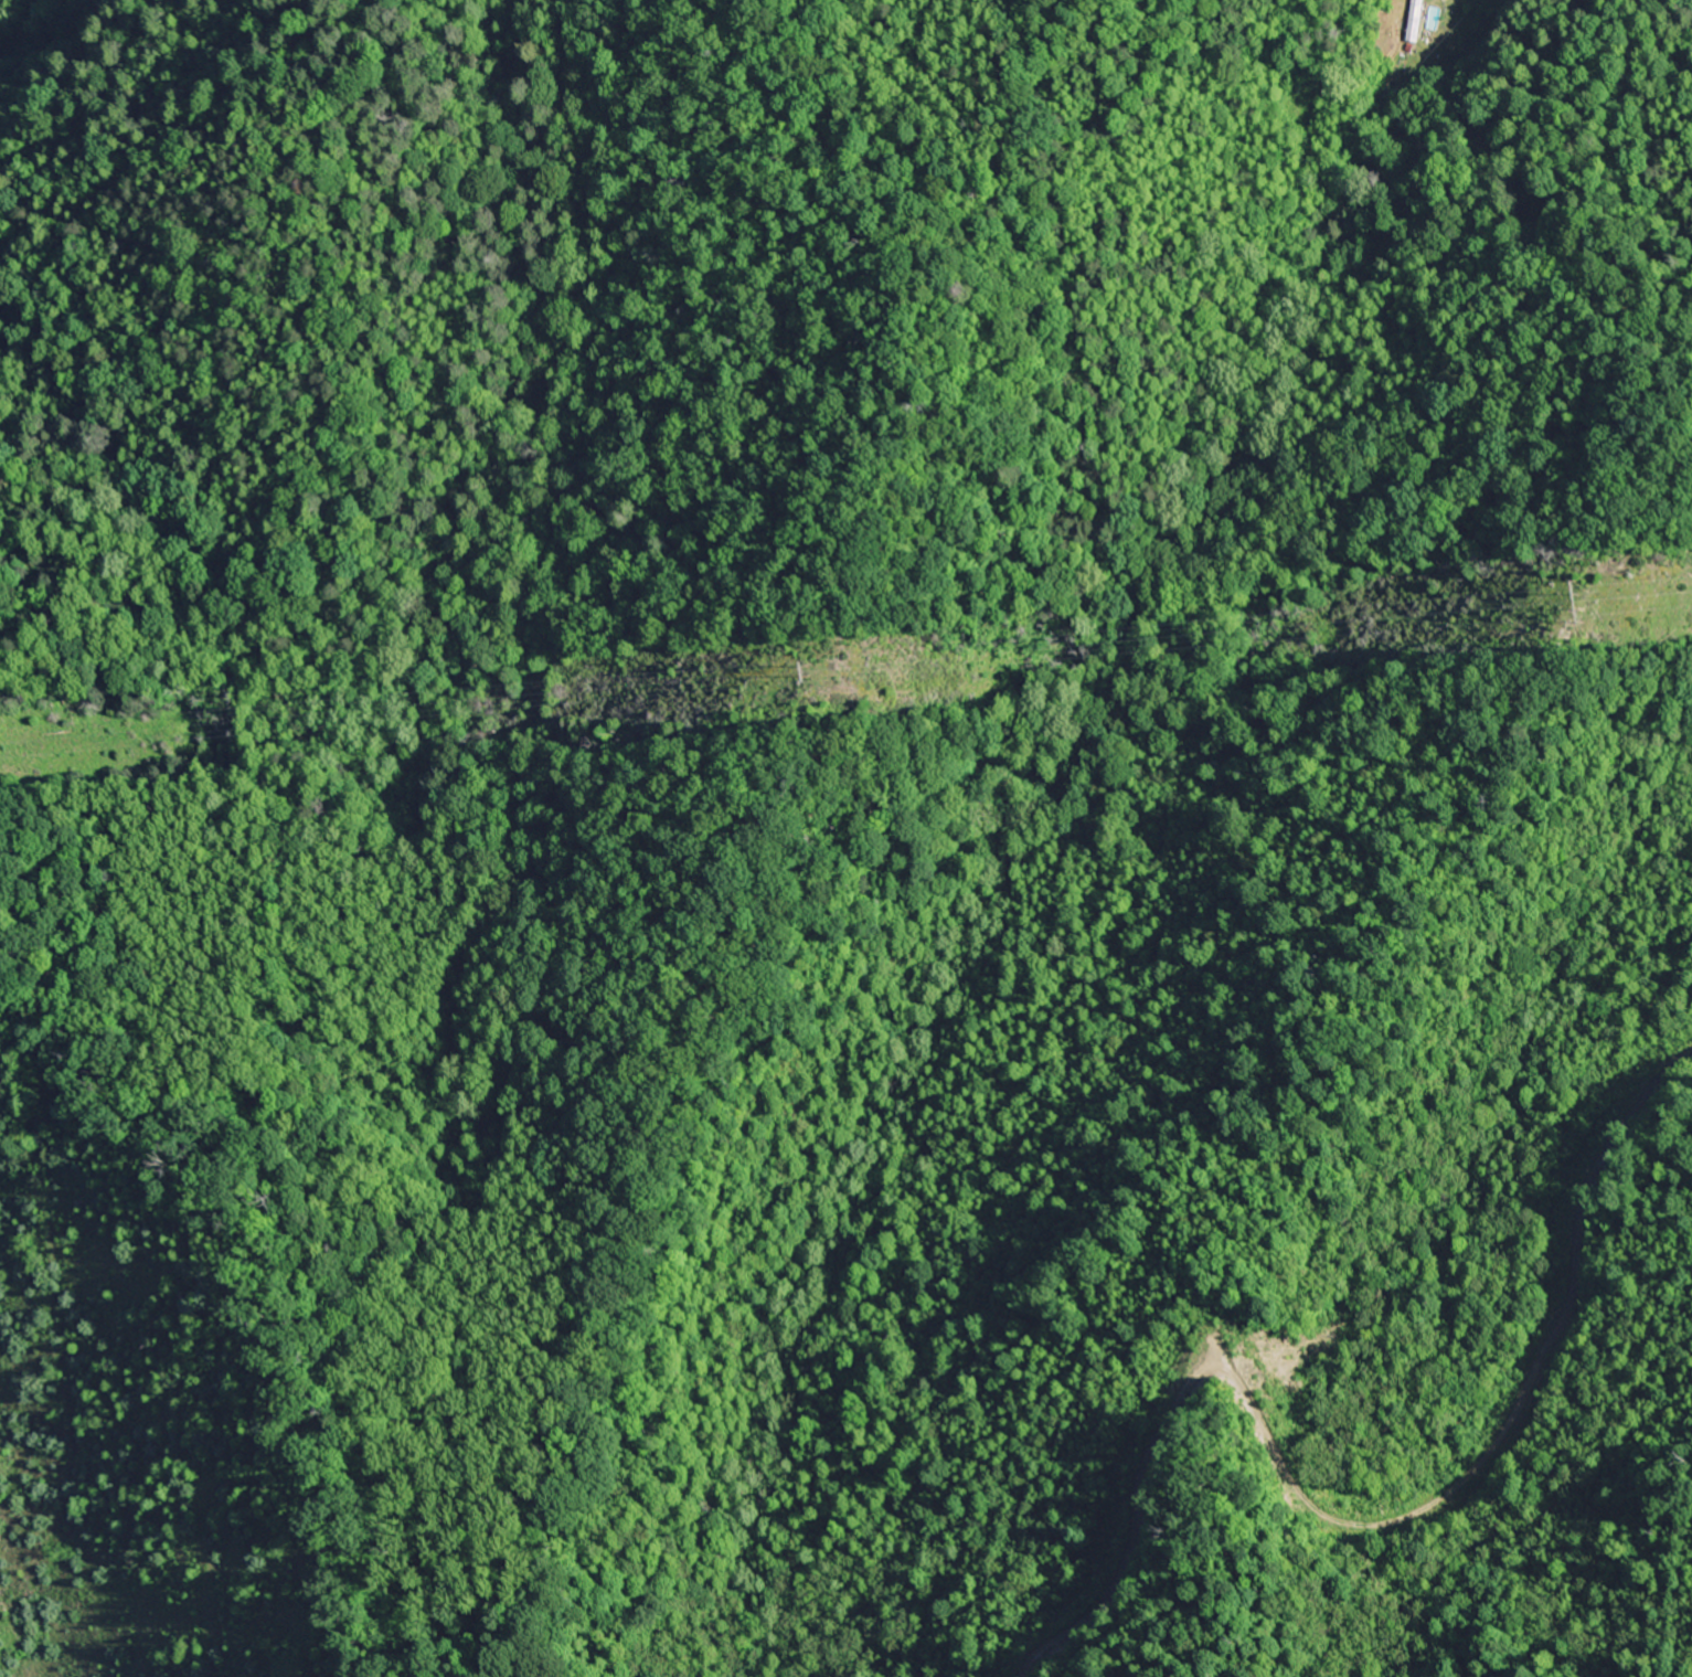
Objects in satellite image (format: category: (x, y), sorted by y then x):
building: (1412, 20)

